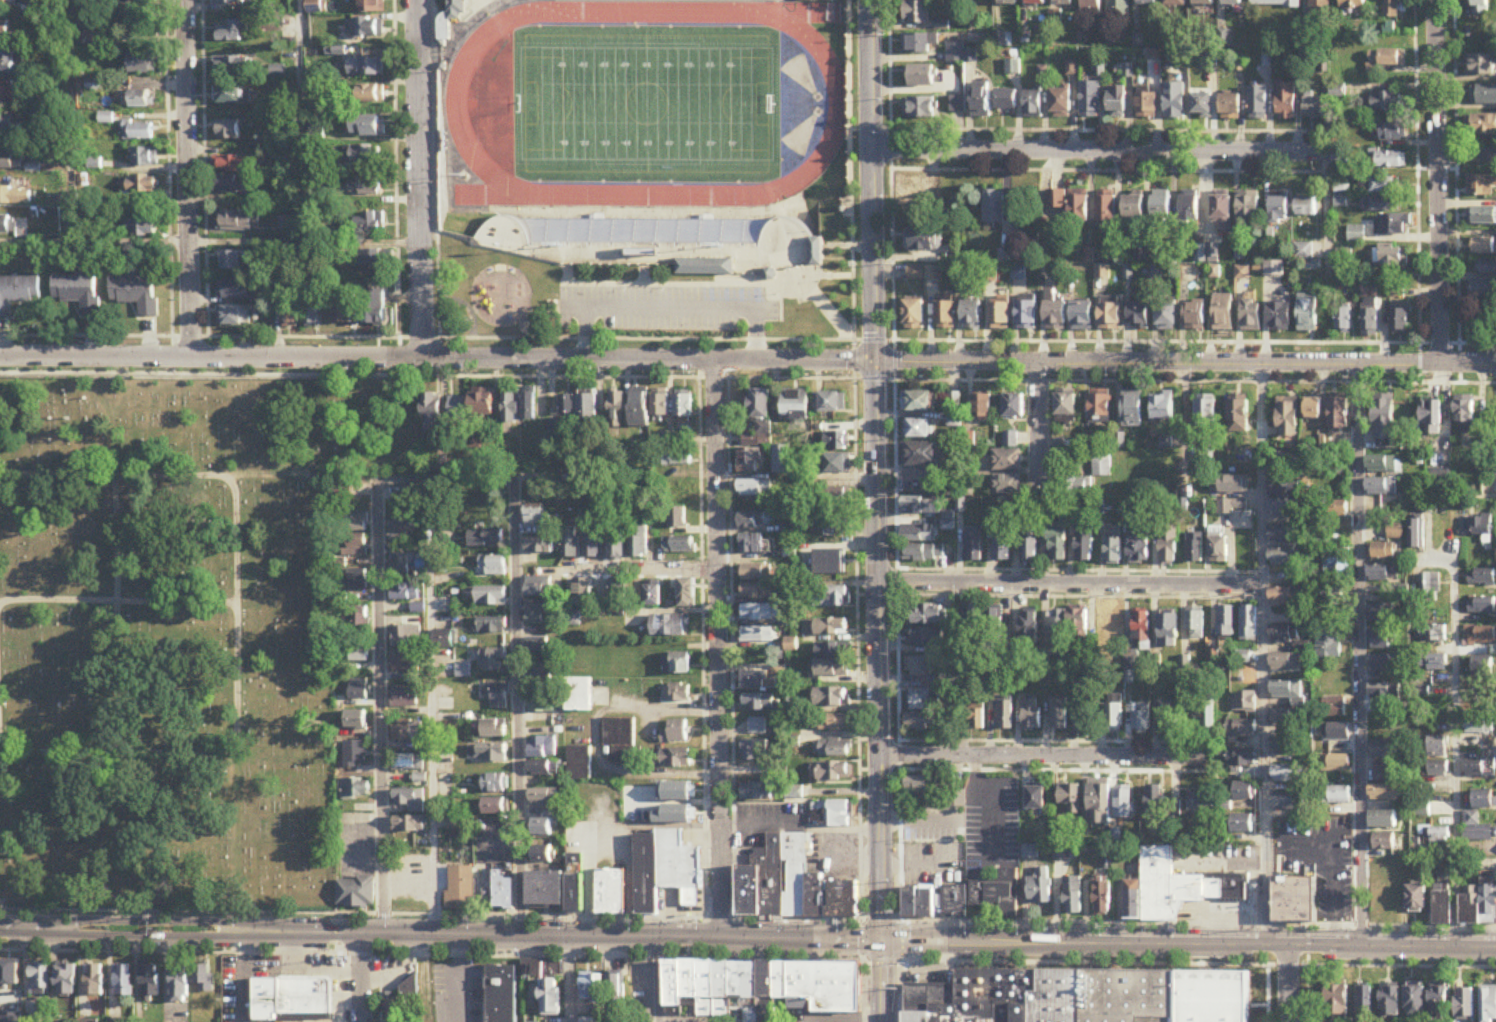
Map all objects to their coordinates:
building: (142, 0)
building: (814, 0)
building: (233, 2)
building: (1009, 2)
building: (1037, 2)
building: (1148, 2)
building: (1065, 3)
building: (1204, 3)
building: (1233, 3)
building: (1275, 3)
building: (8, 4)
building: (1176, 4)
building: (1352, 5)
building: (372, 6)
building: (314, 7)
building: (1093, 7)
building: (1120, 8)
building: (1320, 8)
building: (1480, 8)
building: (1391, 9)
building: (917, 13)
building: (451, 18)
building: (365, 27)
building: (5, 30)
building: (233, 33)
building: (87, 34)
building: (920, 44)
building: (956, 53)
building: (1385, 60)
building: (8, 63)
building: (142, 64)
building: (1481, 65)
building: (232, 66)
building: (366, 67)
building: (922, 76)
road: (302, 81)
building: (234, 94)
building: (370, 94)
building: (1484, 95)
building: (14, 97)
track: (456, 98)
building: (139, 99)
building: (1008, 100)
building: (1090, 100)
building: (1175, 100)
building: (982, 102)
building: (1118, 102)
building: (1258, 102)
building: (1286, 102)
building: (959, 103)
building: (1062, 103)
building: (1386, 103)
park: (635, 104)
building: (1034, 104)
building: (1147, 105)
building: (1202, 106)
building: (1231, 106)
building: (1314, 108)
building: (920, 109)
building: (7, 123)
building: (368, 126)
building: (1482, 126)
building: (138, 131)
building: (228, 131)
building: (1393, 132)
road: (1102, 152)
building: (363, 155)
road: (1467, 156)
building: (1339, 157)
building: (146, 158)
building: (1391, 160)
building: (8, 161)
road: (435, 169)
building: (235, 174)
road: (421, 179)
road: (189, 180)
park: (647, 180)
road: (1438, 182)
building: (144, 185)
building: (1382, 186)
building: (1481, 186)
building: (365, 187)
building: (16, 195)
building: (1058, 199)
building: (925, 202)
building: (1342, 202)
building: (1379, 204)
building: (1248, 205)
building: (1079, 206)
building: (1161, 206)
building: (1106, 207)
building: (1135, 207)
building: (1306, 207)
building: (1190, 208)
building: (1222, 209)
building: (995, 210)
building: (1279, 211)
building: (1482, 217)
road: (1329, 222)
building: (239, 223)
building: (371, 224)
building: (7, 226)
building: (1393, 226)
building: (147, 228)
building: (1356, 235)
building: (761, 241)
building: (925, 241)
building: (1484, 247)
building: (1307, 257)
building: (1390, 259)
building: (373, 260)
building: (232, 262)
building: (1485, 268)
building: (1274, 270)
building: (964, 273)
building: (1242, 273)
building: (924, 274)
building: (1190, 274)
building: (238, 290)
building: (1484, 290)
building: (18, 293)
building: (78, 293)
building: (137, 295)
park: (639, 296)
parking lot: (668, 307)
building: (313, 308)
road: (468, 308)
road: (671, 308)
building: (377, 309)
building: (1055, 313)
building: (1223, 313)
building: (1308, 313)
building: (291, 314)
building: (346, 314)
building: (1139, 315)
building: (1251, 315)
building: (1279, 315)
building: (914, 316)
building: (945, 316)
building: (1027, 316)
building: (1195, 316)
building: (235, 317)
building: (972, 317)
building: (1001, 317)
building: (1167, 317)
building: (1082, 318)
building: (1110, 318)
building: (1345, 320)
building: (1400, 321)
building: (1371, 323)
road: (530, 327)
road: (505, 339)
road: (437, 359)
road: (1185, 365)
building: (917, 402)
building: (830, 403)
building: (661, 404)
building: (795, 404)
building: (760, 405)
building: (482, 406)
building: (684, 406)
building: (1065, 406)
building: (529, 407)
building: (640, 407)
building: (981, 407)
building: (1013, 407)
building: (1099, 407)
building: (1162, 407)
building: (568, 408)
building: (617, 408)
building: (456, 409)
building: (510, 409)
building: (588, 409)
building: (1132, 409)
building: (1313, 409)
building: (430, 411)
building: (1206, 413)
building: (1465, 413)
building: (1384, 414)
building: (1339, 415)
building: (1239, 417)
building: (1432, 418)
building: (954, 420)
road: (1187, 420)
building: (1288, 421)
road: (1040, 423)
building: (917, 429)
building: (1011, 440)
building: (836, 441)
building: (753, 450)
building: (920, 455)
building: (781, 460)
building: (677, 461)
building: (1006, 461)
building: (439, 464)
building: (837, 464)
building: (1102, 465)
building: (1386, 466)
road: (876, 470)
building: (321, 474)
road: (266, 475)
road: (476, 478)
building: (1008, 486)
building: (1236, 486)
building: (1383, 486)
building: (1075, 487)
building: (754, 488)
building: (539, 491)
building: (410, 494)
building: (339, 495)
building: (1286, 498)
building: (836, 499)
building: (922, 506)
building: (1233, 507)
building: (1338, 510)
building: (536, 519)
building: (677, 519)
building: (753, 520)
building: (354, 523)
building: (834, 523)
building: (948, 524)
building: (1478, 527)
building: (400, 531)
building: (1397, 531)
building: (918, 534)
building: (1286, 534)
building: (1416, 534)
building: (488, 540)
building: (571, 543)
building: (1084, 543)
building: (640, 544)
building: (1059, 544)
building: (1139, 544)
building: (753, 545)
building: (974, 545)
building: (1169, 545)
building: (354, 546)
building: (539, 546)
building: (1002, 546)
building: (1219, 546)
building: (594, 548)
building: (679, 548)
building: (616, 549)
building: (1195, 549)
building: (1030, 550)
building: (1382, 551)
building: (924, 554)
building: (1286, 558)
building: (830, 562)
building: (399, 565)
building: (493, 567)
building: (1337, 567)
road: (643, 571)
building: (757, 573)
building: (1385, 574)
building: (357, 581)
building: (1482, 581)
road: (1072, 587)
building: (1431, 587)
building: (537, 588)
building: (1402, 591)
building: (401, 592)
building: (759, 592)
building: (582, 593)
building: (686, 593)
building: (616, 594)
building: (652, 596)
building: (490, 597)
building: (1285, 597)
building: (1333, 598)
building: (830, 599)
road: (118, 601)
building: (1481, 605)
building: (760, 613)
road: (116, 614)
building: (538, 614)
building: (1382, 614)
road: (238, 615)
building: (928, 615)
building: (358, 618)
building: (572, 619)
building: (975, 621)
building: (1226, 622)
building: (1249, 624)
building: (1078, 625)
building: (1195, 625)
building: (995, 626)
building: (490, 627)
building: (669, 627)
building: (824, 628)
building: (1029, 628)
building: (1142, 628)
building: (1056, 629)
building: (1113, 629)
park: (175, 632)
building: (1169, 632)
building: (757, 635)
building: (1286, 635)
building: (1432, 635)
building: (401, 636)
building: (1479, 636)
building: (925, 638)
building: (444, 640)
building: (1381, 640)
building: (1330, 644)
building: (790, 645)
building: (536, 649)
building: (357, 651)
road: (718, 651)
road: (1265, 656)
road: (1359, 656)
building: (1244, 658)
building: (831, 660)
building: (402, 661)
building: (493, 661)
building: (1287, 663)
building: (1430, 663)
building: (675, 664)
building: (1383, 664)
road: (380, 665)
building: (919, 667)
building: (1483, 667)
building: (543, 674)
building: (947, 675)
road: (518, 681)
building: (757, 681)
building: (1335, 686)
building: (358, 690)
building: (1288, 691)
building: (1384, 694)
building: (676, 695)
building: (404, 697)
building: (582, 697)
building: (498, 698)
building: (830, 698)
building: (923, 700)
building: (757, 703)
building: (1244, 703)
building: (543, 705)
building: (794, 706)
building: (1336, 709)
building: (1115, 713)
building: (1207, 713)
building: (1059, 715)
building: (976, 716)
building: (1004, 716)
building: (1030, 716)
building: (1171, 716)
building: (1142, 718)
building: (1288, 718)
building: (356, 721)
building: (921, 723)
building: (1087, 723)
building: (831, 724)
building: (757, 727)
building: (1479, 727)
building: (493, 730)
building: (1242, 730)
building: (407, 732)
building: (619, 734)
building: (675, 734)
building: (1338, 734)
road: (593, 736)
road: (431, 746)
building: (1436, 748)
building: (542, 749)
building: (832, 750)
building: (1288, 750)
building: (1384, 750)
building: (355, 754)
building: (755, 754)
building: (487, 755)
road: (1455, 755)
road: (1046, 758)
building: (673, 759)
building: (1242, 762)
building: (409, 763)
building: (579, 764)
building: (1337, 764)
building: (1479, 769)
building: (544, 770)
building: (1435, 770)
building: (834, 773)
building: (1383, 774)
building: (1289, 775)
building: (494, 785)
building: (355, 790)
building: (757, 793)
building: (1244, 793)
building: (678, 794)
building: (794, 794)
building: (1384, 795)
building: (1336, 797)
building: (934, 798)
building: (1070, 798)
building: (1036, 799)
building: (409, 800)
building: (547, 800)
building: (1484, 800)
road: (992, 802)
building: (1201, 803)
building: (1291, 803)
building: (1124, 804)
building: (1099, 806)
building: (1157, 807)
building: (494, 808)
building: (1420, 809)
building: (830, 815)
building: (675, 816)
building: (1383, 821)
road: (597, 822)
building: (410, 825)
building: (1243, 825)
building: (542, 828)
road: (801, 829)
building: (1475, 829)
building: (1429, 840)
building: (1387, 843)
building: (542, 855)
building: (665, 872)
road: (1333, 875)
road: (521, 877)
road: (627, 880)
building: (575, 885)
building: (791, 886)
building: (460, 890)
building: (546, 890)
building: (1175, 890)
building: (356, 891)
building: (996, 891)
building: (1040, 891)
road: (383, 892)
building: (503, 893)
building: (609, 893)
building: (1385, 895)
building: (1074, 896)
building: (1104, 899)
building: (1416, 899)
building: (1295, 901)
building: (955, 902)
building: (919, 903)
building: (1478, 906)
building: (1443, 909)
road: (429, 915)
road: (549, 938)
road: (690, 939)
road: (863, 940)
traffic signals: (882, 941)
road: (1297, 946)
road: (434, 956)
road: (339, 967)
road: (360, 979)
road: (427, 979)
road: (458, 979)
building: (205, 980)
road: (570, 980)
road: (660, 980)
building: (40, 981)
building: (66, 981)
road: (882, 981)
building: (94, 982)
building: (123, 982)
building: (10, 983)
building: (150, 983)
road: (1288, 984)
building: (547, 985)
building: (180, 986)
building: (761, 988)
road: (381, 989)
building: (408, 989)
building: (592, 989)
road: (863, 990)
building: (501, 994)
building: (616, 994)
building: (1047, 998)
building: (304, 1000)
building: (1415, 1001)
building: (1337, 1003)
building: (1220, 1004)
building: (1365, 1004)
building: (1390, 1004)
building: (1439, 1004)
building: (1464, 1005)
building: (1488, 1006)
building: (398, 1011)
building: (11, 1019)
building: (89, 1021)

